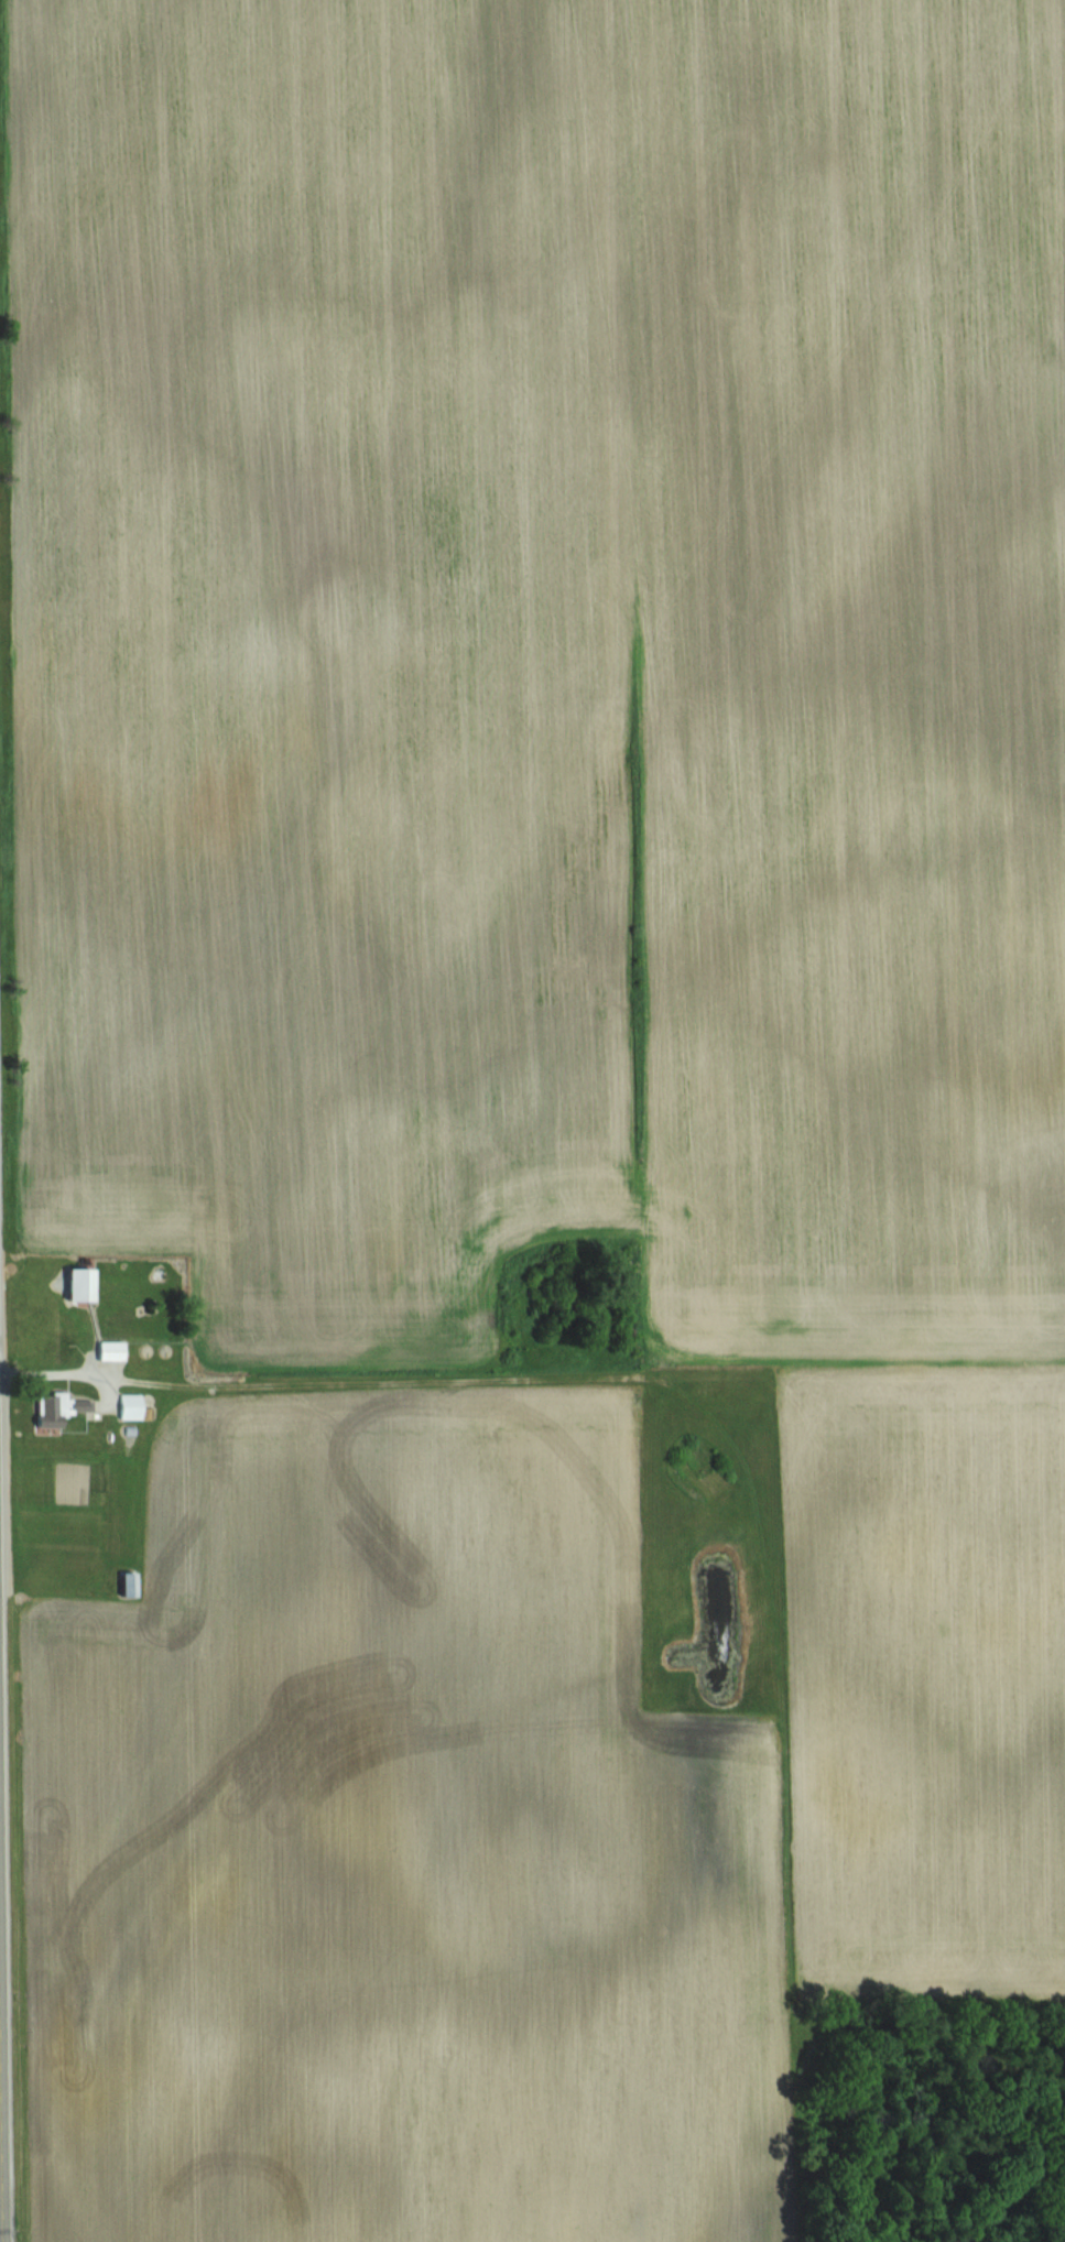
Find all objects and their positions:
building: (117, 1350)
building: (134, 1406)
building: (57, 1410)
building: (123, 1583)
road: (2, 2059)
road: (1, 2108)

